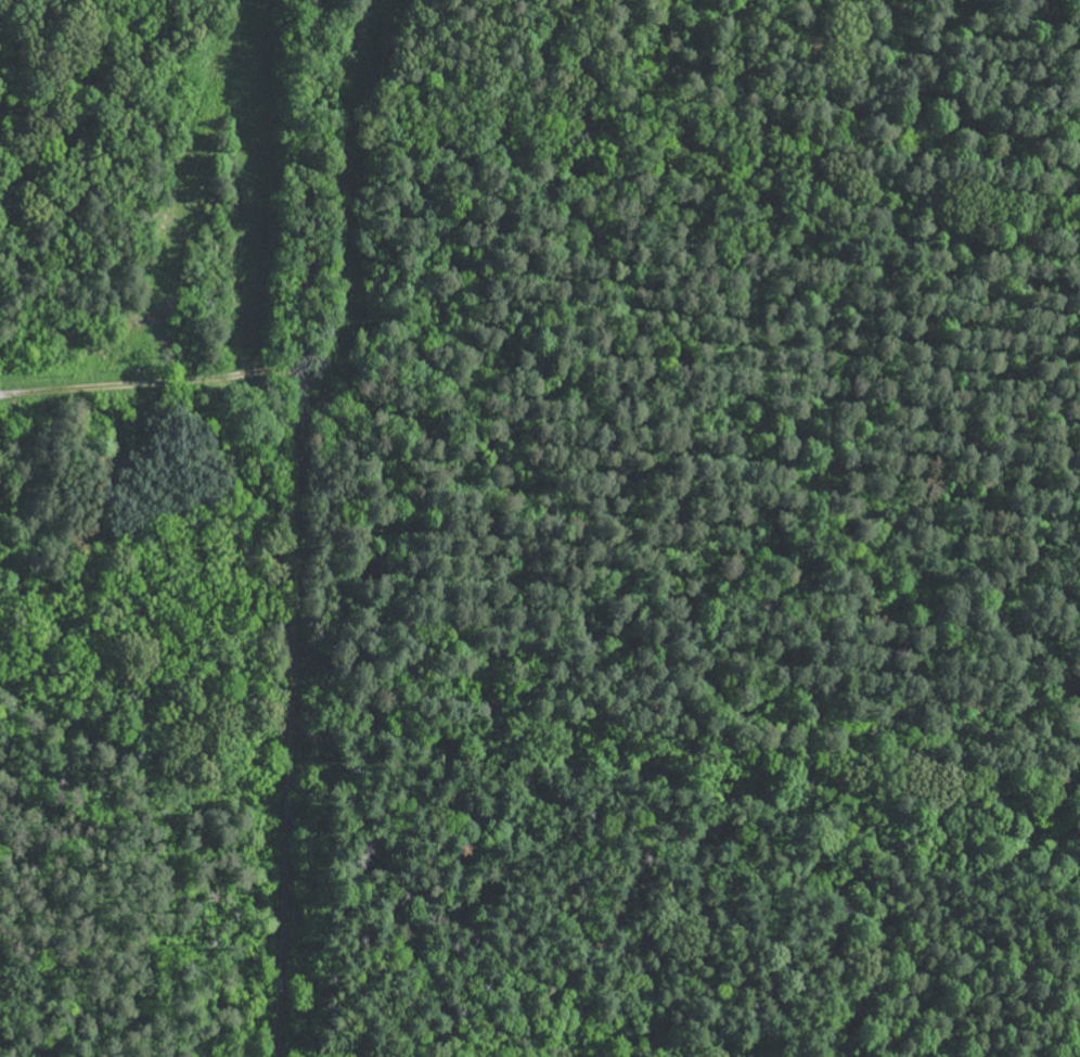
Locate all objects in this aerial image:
road: (298, 528)

